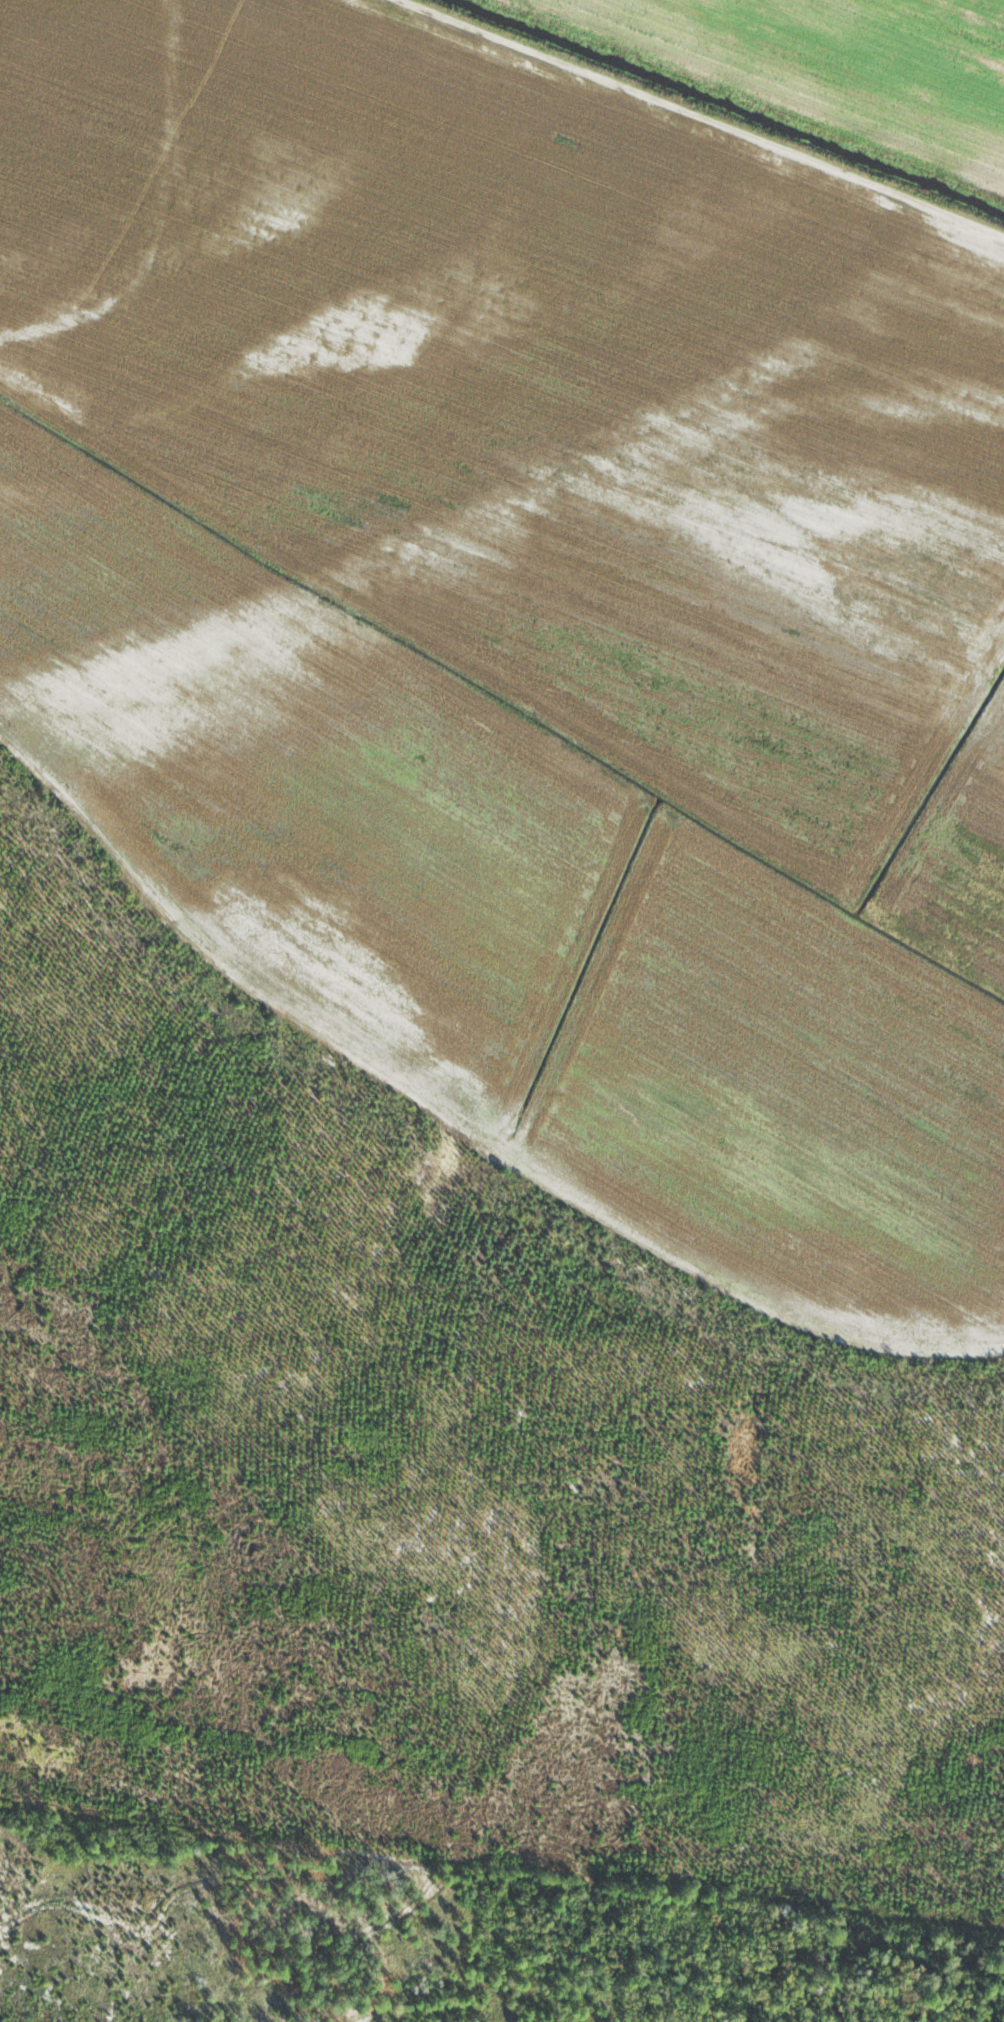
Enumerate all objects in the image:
road: (704, 114)

